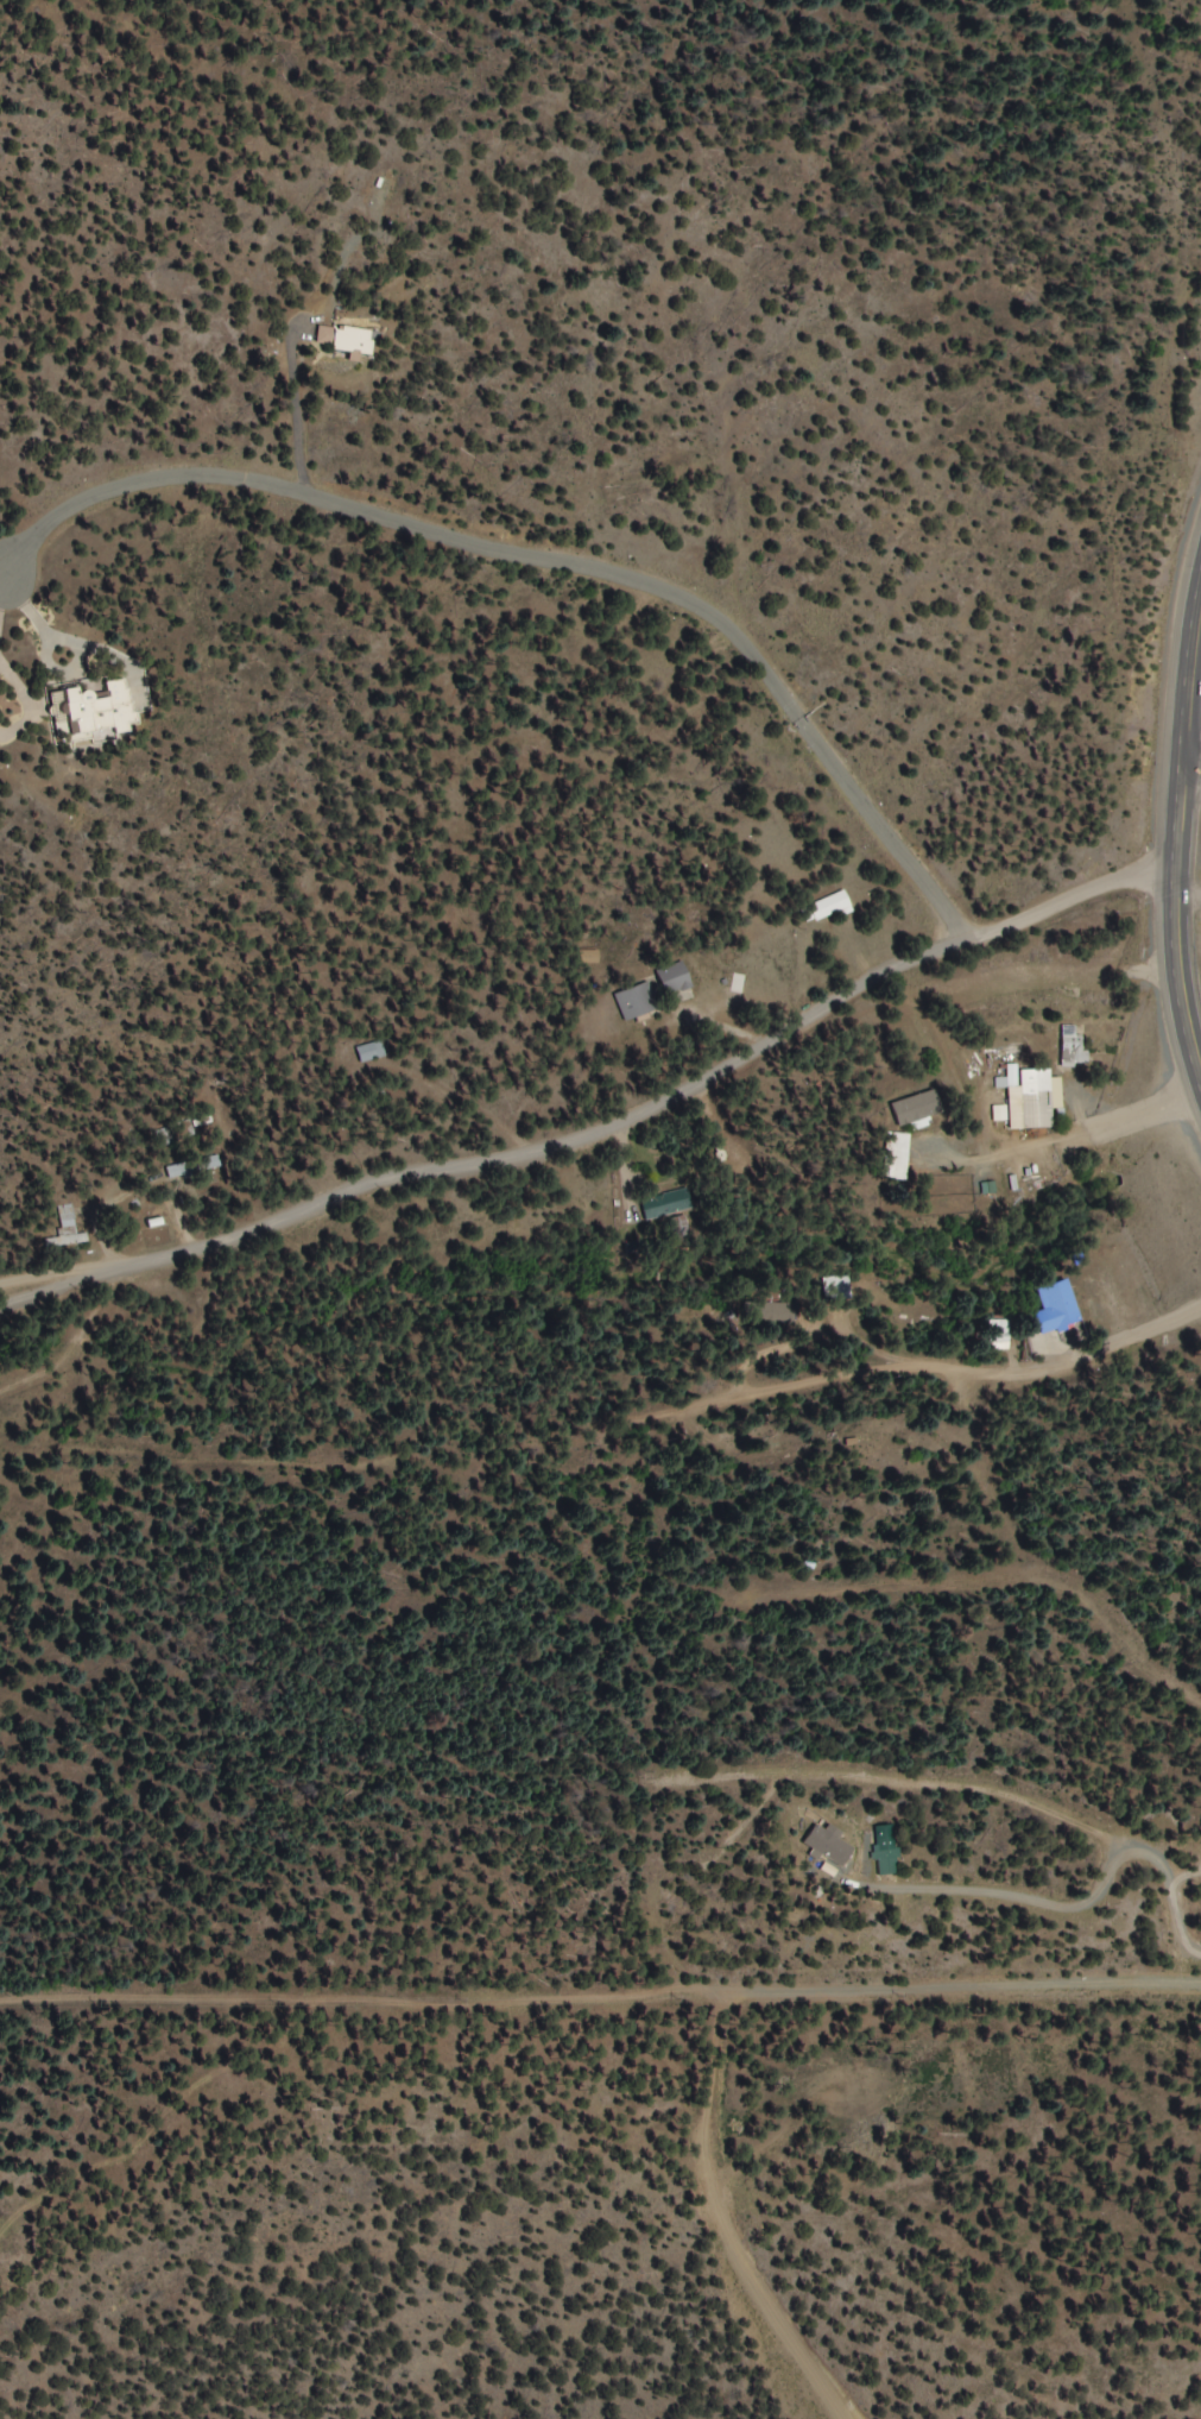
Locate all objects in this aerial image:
building: (345, 340)
building: (95, 708)
road: (1189, 764)
road: (1172, 831)
building: (826, 908)
building: (674, 979)
building: (636, 1002)
building: (1072, 1047)
building: (369, 1052)
building: (1026, 1098)
road: (598, 1117)
building: (898, 1157)
building: (210, 1163)
building: (179, 1172)
building: (668, 1204)
building: (68, 1227)
building: (839, 1287)
road: (837, 1294)
building: (1056, 1309)
building: (1000, 1341)
road: (1072, 1352)
road: (750, 1366)
road: (815, 1549)
road: (972, 1573)
road: (968, 1733)
road: (600, 2027)

